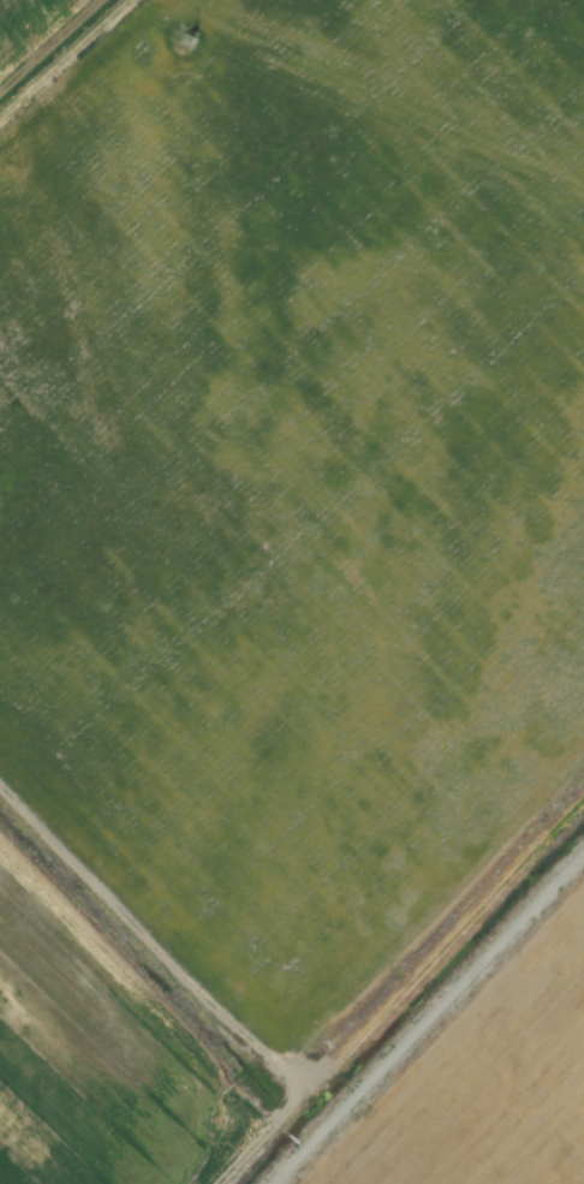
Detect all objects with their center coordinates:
power tower: (181, 41)
road: (418, 1004)

